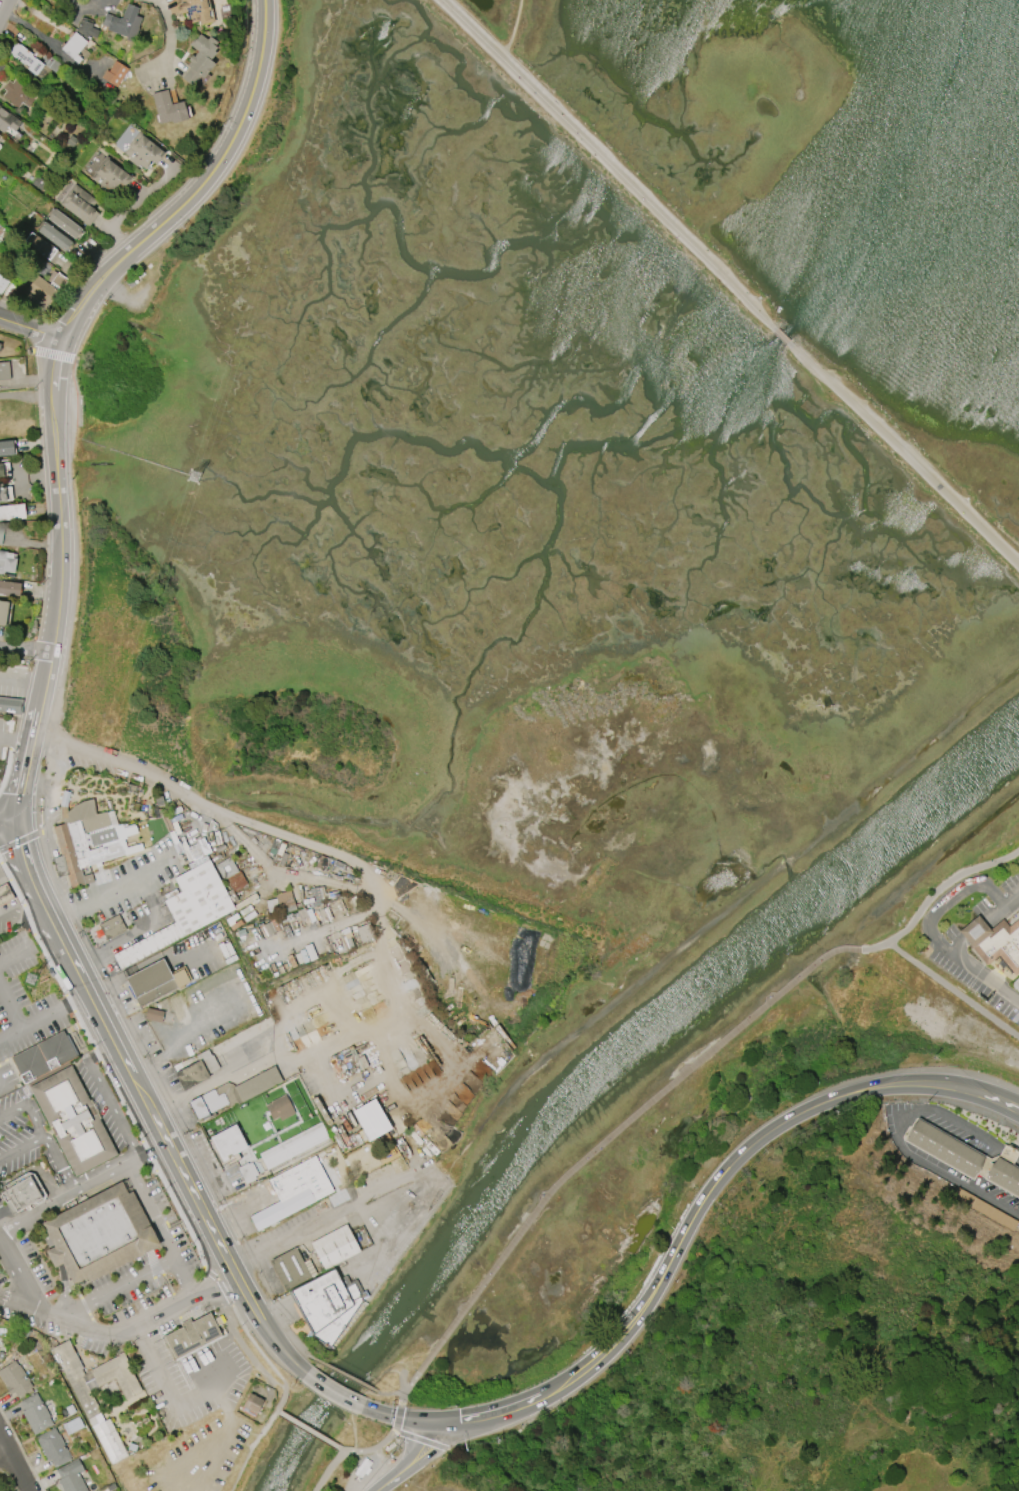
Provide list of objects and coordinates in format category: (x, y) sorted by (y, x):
road: (3, 7)
building: (197, 10)
building: (124, 22)
building: (87, 29)
road: (172, 42)
building: (74, 46)
building: (27, 58)
building: (201, 58)
building: (115, 74)
building: (19, 93)
building: (169, 108)
building: (8, 120)
building: (144, 151)
road: (607, 165)
building: (111, 177)
building: (80, 204)
building: (65, 224)
building: (55, 236)
building: (41, 246)
building: (3, 275)
building: (44, 291)
road: (29, 330)
road: (28, 339)
road: (785, 340)
building: (0, 343)
road: (54, 354)
building: (4, 370)
road: (51, 374)
road: (76, 391)
building: (7, 448)
road: (906, 457)
building: (1, 469)
power tower: (196, 478)
building: (3, 494)
building: (12, 512)
building: (1, 535)
building: (7, 562)
building: (10, 588)
building: (3, 612)
road: (25, 649)
road: (22, 676)
building: (10, 704)
parking lot: (2, 733)
road: (15, 739)
building: (64, 798)
road: (199, 805)
building: (81, 810)
building: (63, 813)
traffic signals: (17, 819)
building: (111, 819)
road: (8, 821)
building: (94, 822)
building: (111, 837)
road: (19, 842)
building: (80, 853)
road: (13, 871)
building: (229, 874)
road: (36, 891)
building: (4, 893)
gas station: (4, 893)
road: (935, 896)
road: (97, 902)
building: (186, 912)
road: (20, 917)
road: (50, 920)
road: (930, 922)
building: (112, 926)
road: (137, 934)
building: (994, 942)
road: (15, 954)
power tower: (31, 982)
building: (158, 982)
road: (954, 989)
road: (11, 1006)
parking lot: (22, 1010)
building: (154, 1015)
road: (43, 1016)
road: (191, 1036)
building: (47, 1054)
building: (194, 1075)
road: (211, 1082)
building: (238, 1092)
road: (106, 1099)
parking lot: (111, 1104)
building: (283, 1107)
building: (77, 1119)
building: (371, 1120)
road: (893, 1127)
road: (36, 1128)
road: (613, 1132)
parking lot: (31, 1137)
building: (228, 1141)
building: (942, 1147)
building: (299, 1149)
road: (172, 1155)
road: (60, 1164)
building: (248, 1172)
building: (1004, 1173)
road: (387, 1182)
road: (717, 1183)
road: (84, 1191)
building: (296, 1192)
building: (24, 1193)
building: (100, 1231)
building: (338, 1246)
road: (159, 1263)
building: (295, 1268)
road: (184, 1279)
parking lot: (109, 1282)
building: (323, 1300)
road: (19, 1303)
road: (102, 1329)
building: (194, 1335)
road: (238, 1340)
road: (295, 1344)
road: (258, 1349)
road: (346, 1377)
building: (15, 1379)
road: (280, 1386)
road: (398, 1391)
road: (335, 1394)
road: (174, 1396)
building: (252, 1403)
road: (221, 1406)
building: (92, 1407)
road: (353, 1412)
building: (35, 1414)
road: (403, 1419)
road: (467, 1422)
building: (73, 1425)
traffic signals: (442, 1425)
road: (308, 1428)
building: (52, 1447)
road: (251, 1448)
road: (341, 1449)
road: (368, 1450)
road: (191, 1454)
road: (213, 1457)
road: (16, 1458)
road: (413, 1460)
building: (71, 1477)

